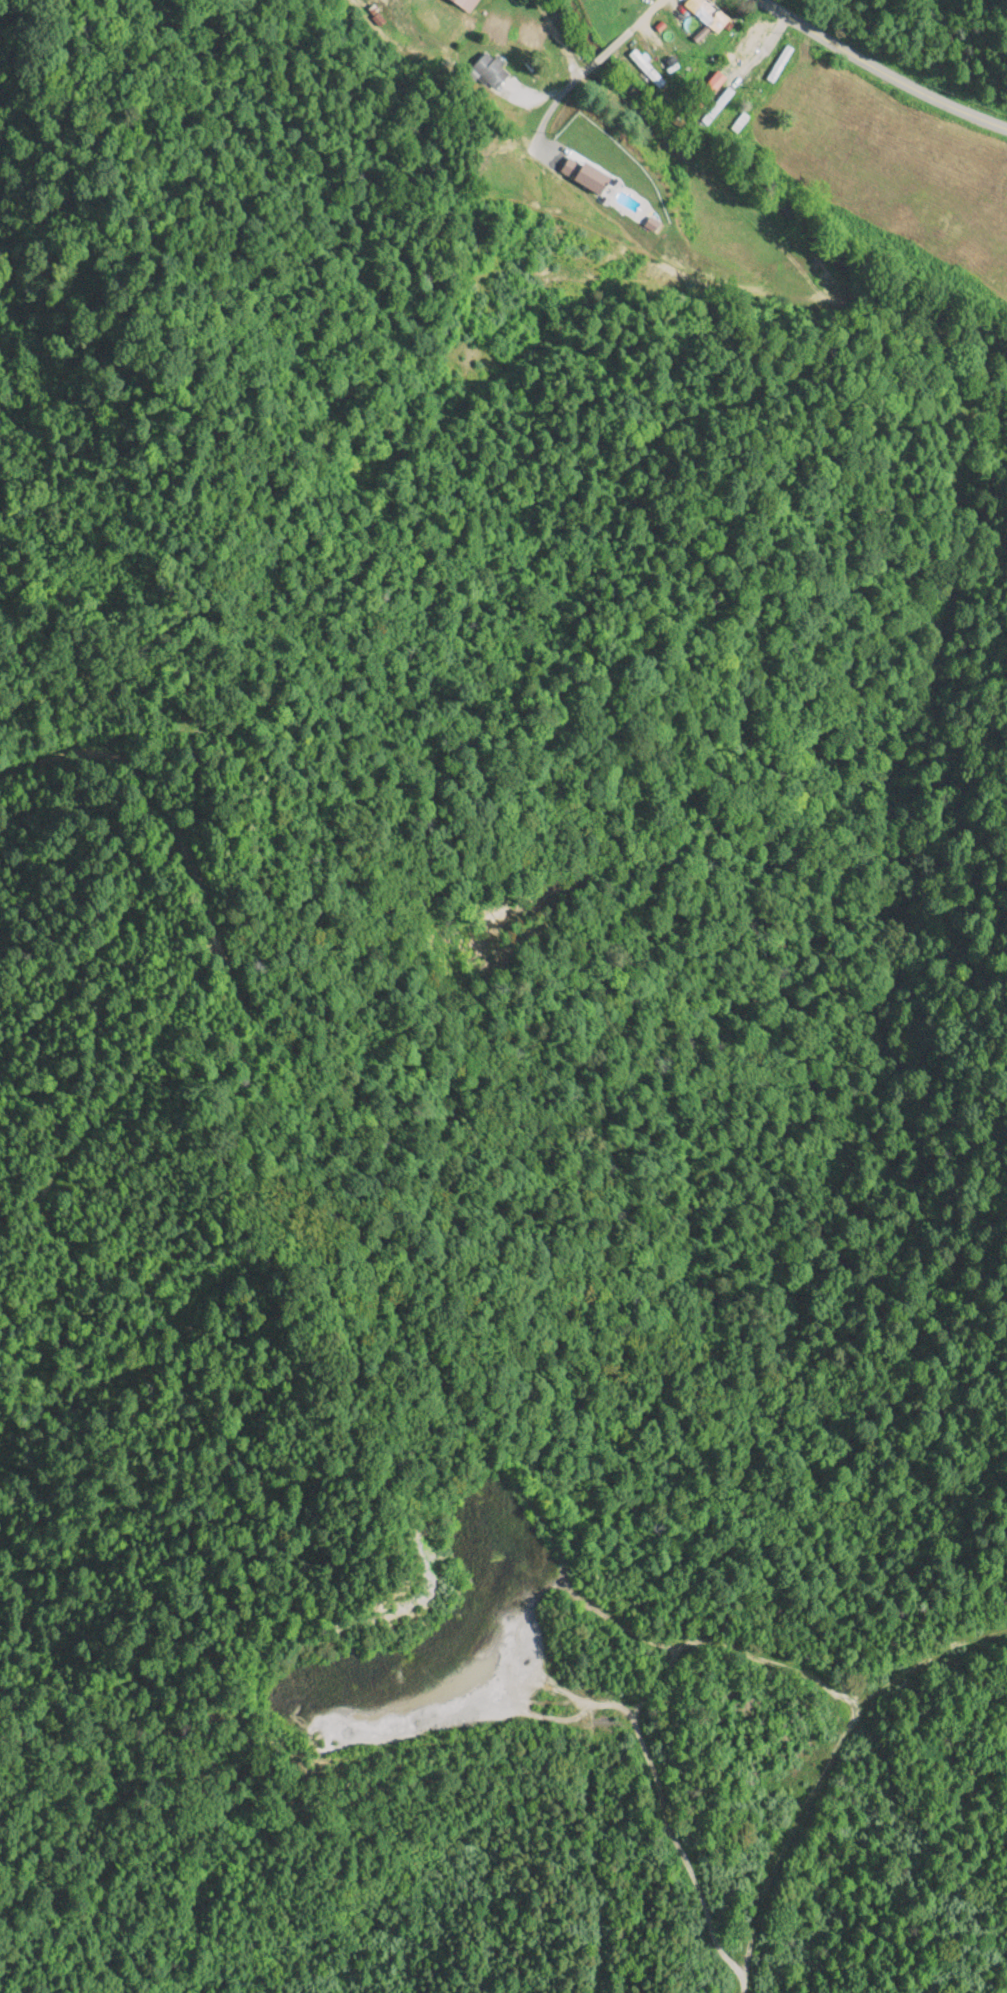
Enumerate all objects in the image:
road: (898, 52)
road: (659, 318)
road: (849, 344)

